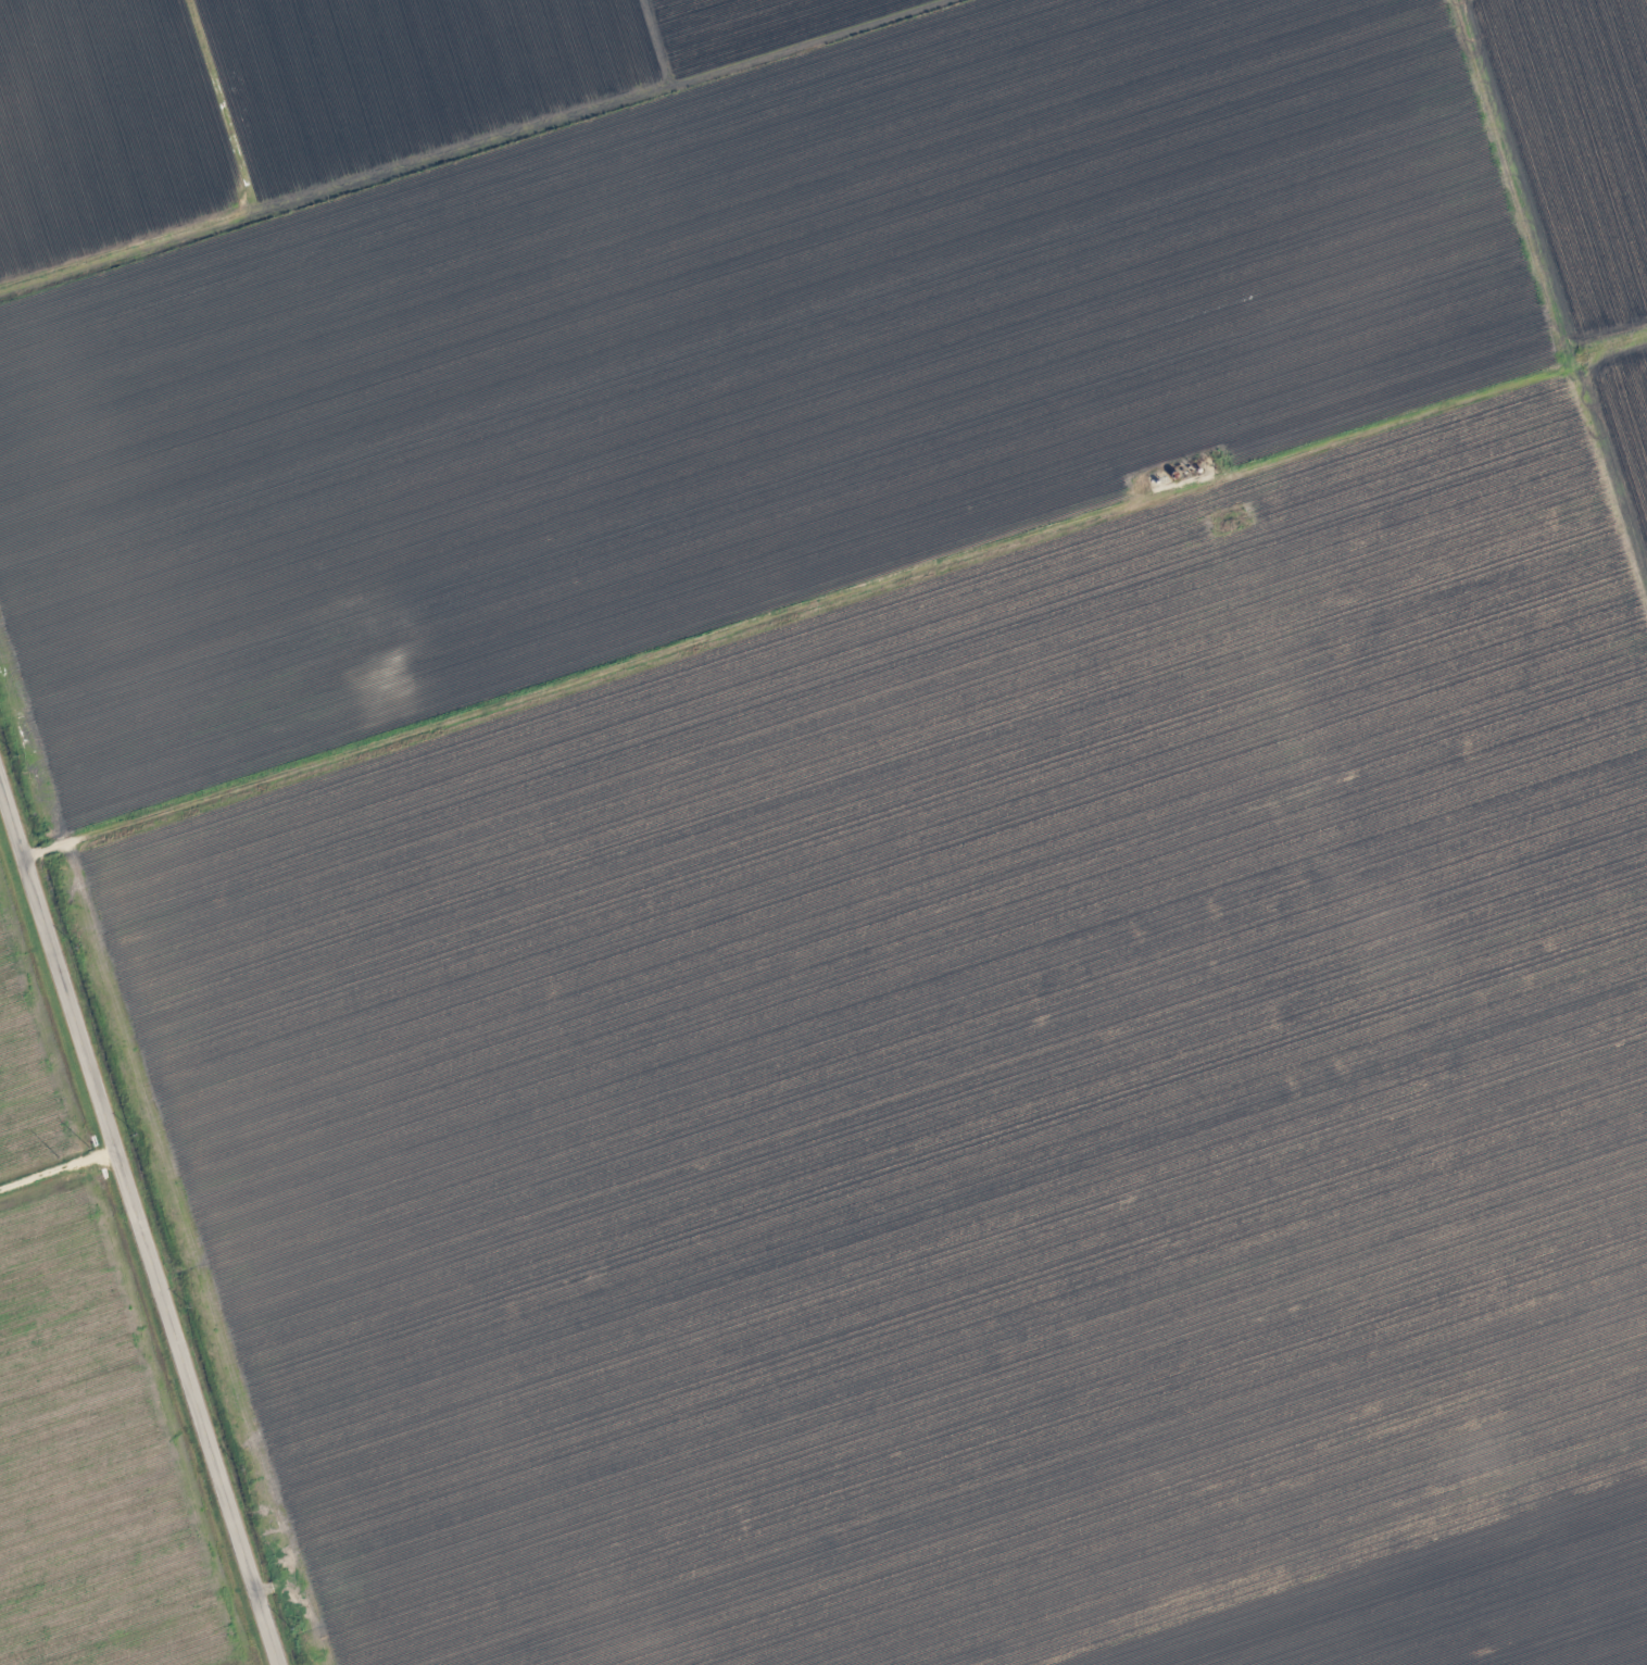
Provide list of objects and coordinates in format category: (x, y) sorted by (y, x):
road: (833, 600)
road: (54, 1167)
road: (136, 1231)

